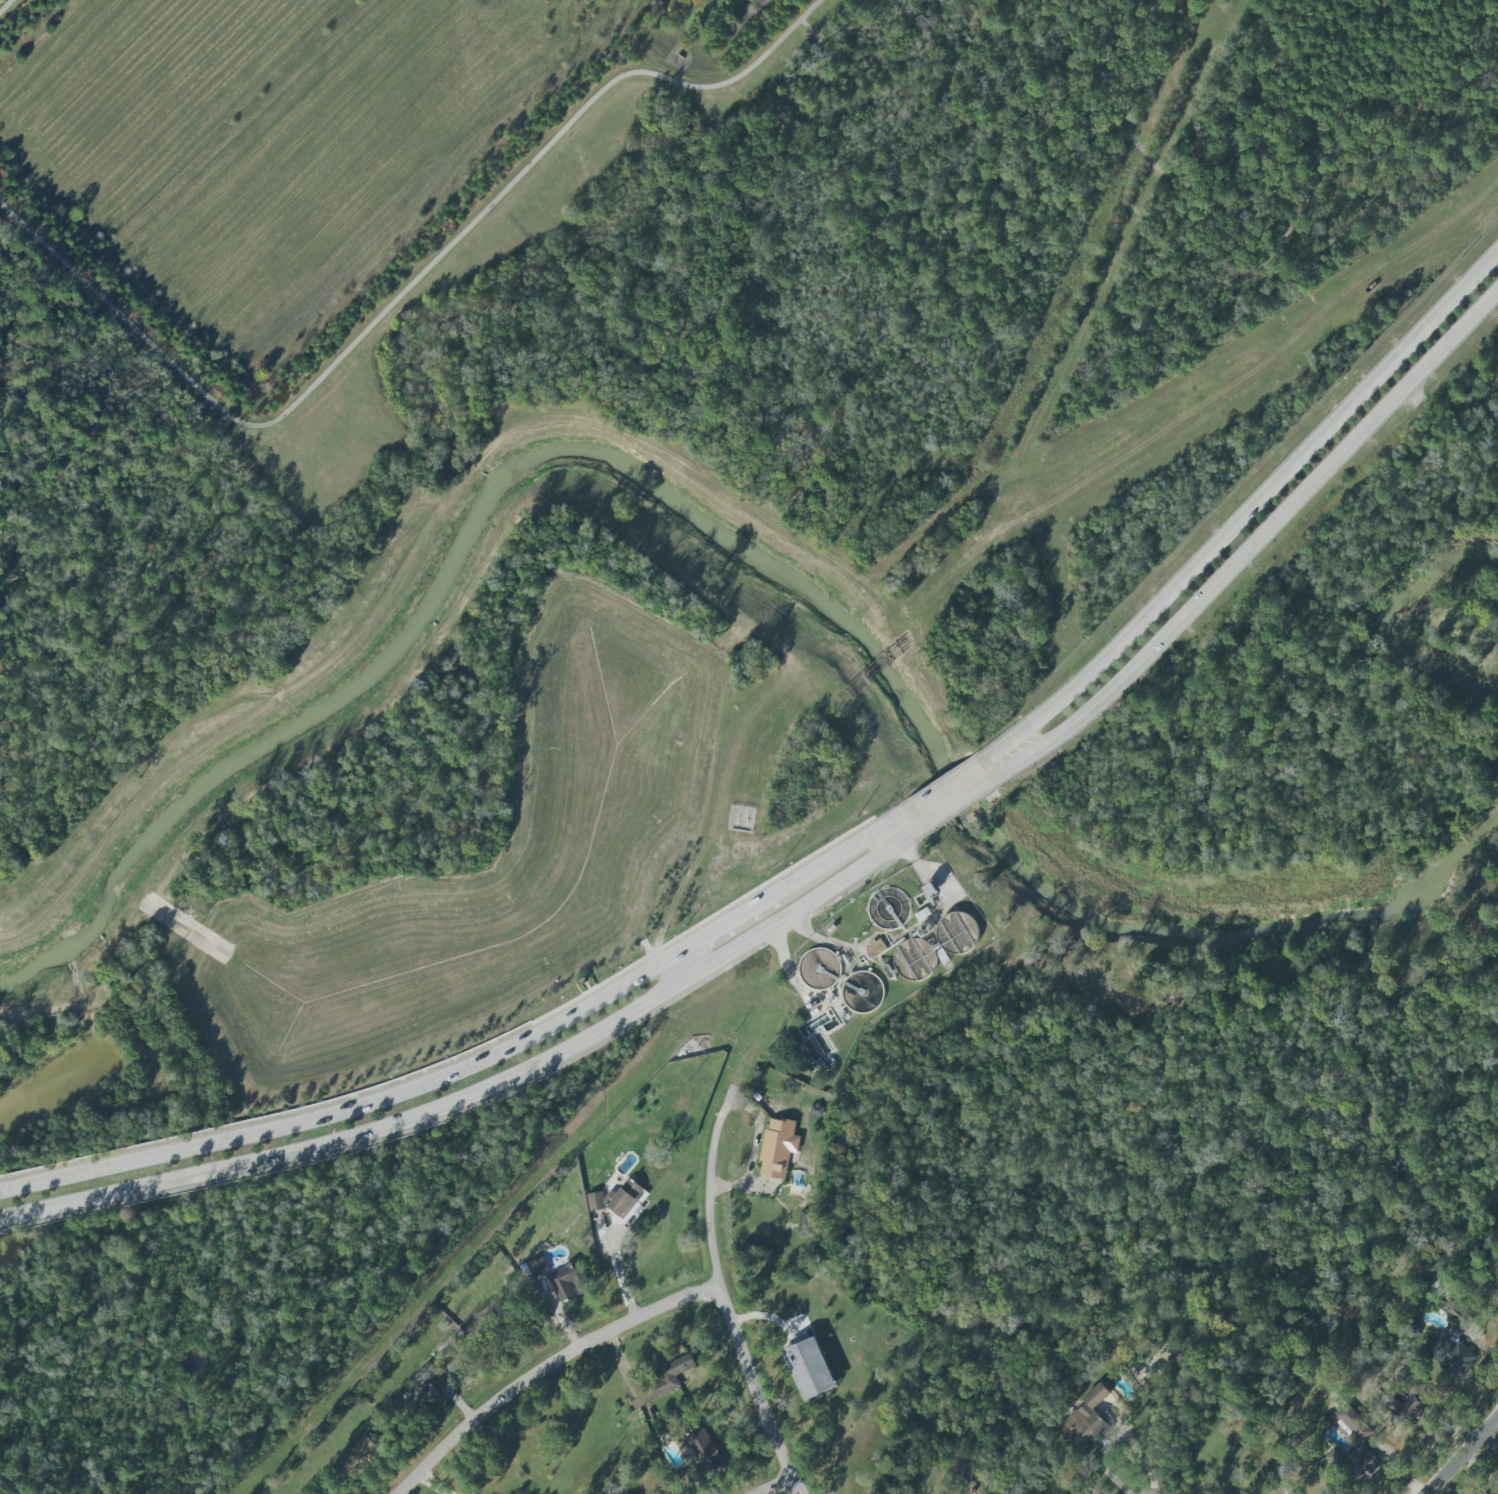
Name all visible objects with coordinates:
road: (8, 8)
road: (910, 57)
road: (1257, 270)
road: (402, 293)
road: (1248, 507)
road: (1255, 540)
river: (1394, 629)
river: (864, 645)
river: (378, 661)
road: (946, 786)
river: (959, 799)
road: (957, 801)
road: (898, 830)
road: (839, 856)
river: (1458, 860)
river: (1069, 911)
river: (1308, 927)
road: (723, 929)
building: (958, 933)
road: (824, 942)
building: (875, 948)
road: (785, 963)
wastewater plant: (873, 964)
road: (679, 971)
road: (486, 1092)
road: (349, 1109)
building: (777, 1148)
building: (625, 1198)
building: (595, 1201)
building: (805, 1223)
road: (619, 1270)
building: (568, 1282)
road: (721, 1293)
building: (1452, 1349)
road: (543, 1367)
building: (809, 1368)
building: (426, 1394)
building: (1407, 1401)
building: (1086, 1421)
building: (1353, 1422)
building: (701, 1452)
road: (1462, 1456)
building: (357, 1459)
building: (1354, 1461)
road: (777, 1486)
building: (617, 1492)
building: (1485, 1492)
building: (1291, 1493)

